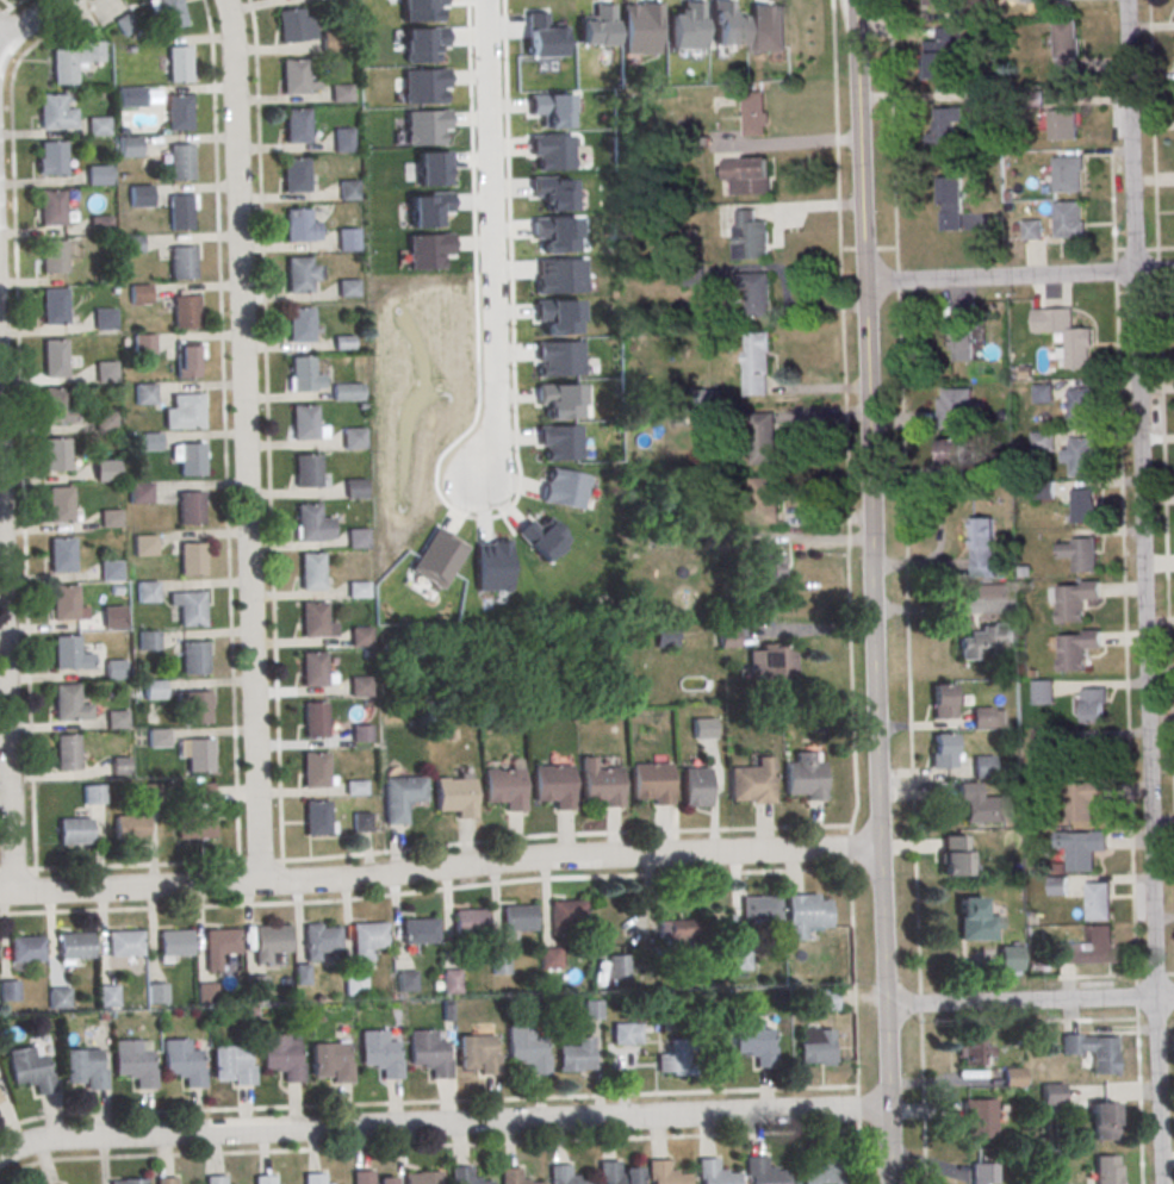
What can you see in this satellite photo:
road: (8, 4)
building: (934, 4)
road: (14, 5)
building: (976, 11)
road: (2, 14)
building: (170, 14)
road: (29, 20)
building: (125, 23)
building: (296, 25)
road: (4, 32)
building: (333, 45)
building: (1066, 49)
building: (73, 60)
building: (937, 66)
building: (180, 68)
building: (294, 81)
building: (341, 95)
building: (981, 99)
building: (131, 100)
building: (56, 116)
building: (179, 116)
building: (756, 117)
road: (1153, 124)
building: (948, 126)
building: (1063, 127)
building: (98, 129)
building: (297, 130)
building: (343, 143)
building: (130, 150)
building: (52, 162)
building: (181, 166)
building: (1068, 177)
building: (99, 179)
building: (296, 179)
building: (747, 180)
building: (349, 194)
building: (141, 199)
building: (949, 206)
building: (52, 211)
building: (181, 216)
building: (1069, 224)
building: (101, 228)
building: (298, 229)
building: (1031, 232)
building: (752, 238)
building: (348, 242)
road: (491, 242)
building: (132, 247)
road: (1114, 251)
building: (55, 261)
building: (184, 266)
road: (1018, 276)
building: (300, 279)
building: (349, 291)
building: (754, 292)
building: (139, 297)
building: (55, 310)
building: (185, 317)
building: (106, 320)
building: (302, 328)
building: (961, 342)
building: (144, 347)
building: (1077, 348)
building: (55, 361)
building: (187, 361)
building: (754, 363)
building: (107, 372)
building: (303, 375)
building: (348, 391)
building: (1042, 393)
building: (145, 397)
building: (1080, 406)
building: (954, 407)
building: (56, 409)
road: (20, 413)
building: (185, 415)
building: (106, 423)
building: (304, 424)
road: (268, 432)
road: (225, 434)
building: (760, 437)
road: (246, 441)
building: (355, 441)
building: (1041, 441)
building: (151, 444)
building: (56, 454)
building: (954, 454)
building: (1080, 456)
building: (193, 463)
building: (107, 472)
building: (308, 474)
building: (1043, 490)
building: (356, 491)
building: (139, 494)
building: (764, 500)
building: (58, 504)
building: (1082, 505)
building: (190, 507)
building: (110, 518)
building: (309, 526)
building: (359, 541)
building: (144, 544)
building: (981, 548)
road: (1166, 553)
building: (61, 554)
road: (870, 554)
building: (1080, 554)
building: (190, 559)
building: (768, 566)
building: (110, 571)
building: (312, 575)
building: (147, 591)
road: (1143, 591)
road: (851, 592)
road: (906, 592)
building: (1075, 598)
building: (63, 602)
building: (191, 609)
building: (113, 617)
building: (312, 618)
building: (666, 635)
building: (360, 637)
building: (731, 637)
building: (984, 640)
building: (148, 641)
building: (1076, 648)
building: (69, 654)
road: (1125, 656)
building: (193, 658)
building: (772, 661)
building: (311, 668)
building: (113, 669)
building: (360, 686)
road: (5, 688)
building: (153, 690)
building: (1042, 692)
building: (944, 700)
building: (68, 704)
building: (1093, 704)
building: (195, 706)
building: (982, 717)
building: (313, 718)
building: (116, 719)
building: (704, 728)
building: (362, 733)
building: (157, 739)
building: (1042, 741)
building: (943, 749)
building: (64, 752)
building: (198, 754)
building: (1094, 754)
building: (120, 765)
building: (982, 766)
building: (315, 769)
building: (802, 775)
building: (750, 781)
building: (650, 783)
building: (553, 785)
building: (602, 785)
building: (694, 786)
building: (503, 787)
building: (150, 793)
building: (201, 793)
building: (92, 794)
building: (400, 796)
building: (454, 796)
building: (1082, 799)
building: (979, 804)
building: (316, 816)
building: (361, 821)
building: (192, 825)
building: (128, 828)
building: (73, 829)
road: (561, 831)
building: (1085, 849)
building: (955, 854)
road: (260, 859)
road: (136, 864)
road: (13, 867)
road: (439, 868)
road: (282, 874)
road: (238, 877)
road: (35, 883)
building: (1057, 886)
road: (424, 890)
building: (1098, 901)
building: (758, 906)
building: (803, 914)
building: (566, 916)
building: (517, 918)
building: (977, 921)
building: (470, 922)
building: (418, 931)
building: (675, 933)
building: (367, 935)
building: (271, 939)
building: (321, 940)
building: (219, 941)
building: (173, 942)
building: (123, 943)
building: (74, 946)
building: (1087, 948)
building: (25, 949)
building: (1010, 956)
building: (551, 959)
building: (740, 959)
building: (499, 964)
building: (619, 966)
building: (302, 973)
building: (405, 982)
building: (453, 982)
building: (353, 983)
building: (8, 991)
building: (155, 993)
building: (205, 993)
building: (106, 996)
building: (57, 998)
road: (1029, 999)
building: (592, 1009)
building: (627, 1033)
building: (754, 1040)
building: (815, 1045)
building: (527, 1049)
building: (975, 1051)
building: (379, 1054)
building: (428, 1054)
building: (478, 1054)
building: (577, 1054)
building: (1101, 1055)
building: (280, 1058)
building: (670, 1059)
building: (329, 1061)
building: (181, 1063)
building: (132, 1064)
building: (230, 1064)
building: (82, 1068)
building: (29, 1070)
building: (1014, 1076)
building: (1052, 1093)
building: (0, 1098)
building: (0, 1099)
road: (1138, 1102)
road: (427, 1103)
building: (979, 1117)
building: (1102, 1122)
road: (442, 1124)
road: (427, 1146)
road: (889, 1146)
building: (1105, 1170)
building: (822, 1171)
building: (762, 1172)
building: (982, 1172)
building: (616, 1173)
building: (661, 1173)
building: (713, 1173)
building: (563, 1176)
building: (361, 1177)
building: (422, 1177)
building: (464, 1177)
building: (513, 1177)
building: (312, 1178)
building: (262, 1179)
building: (128, 1180)
building: (163, 1180)
building: (213, 1180)
building: (384, 1180)
building: (1052, 1183)

